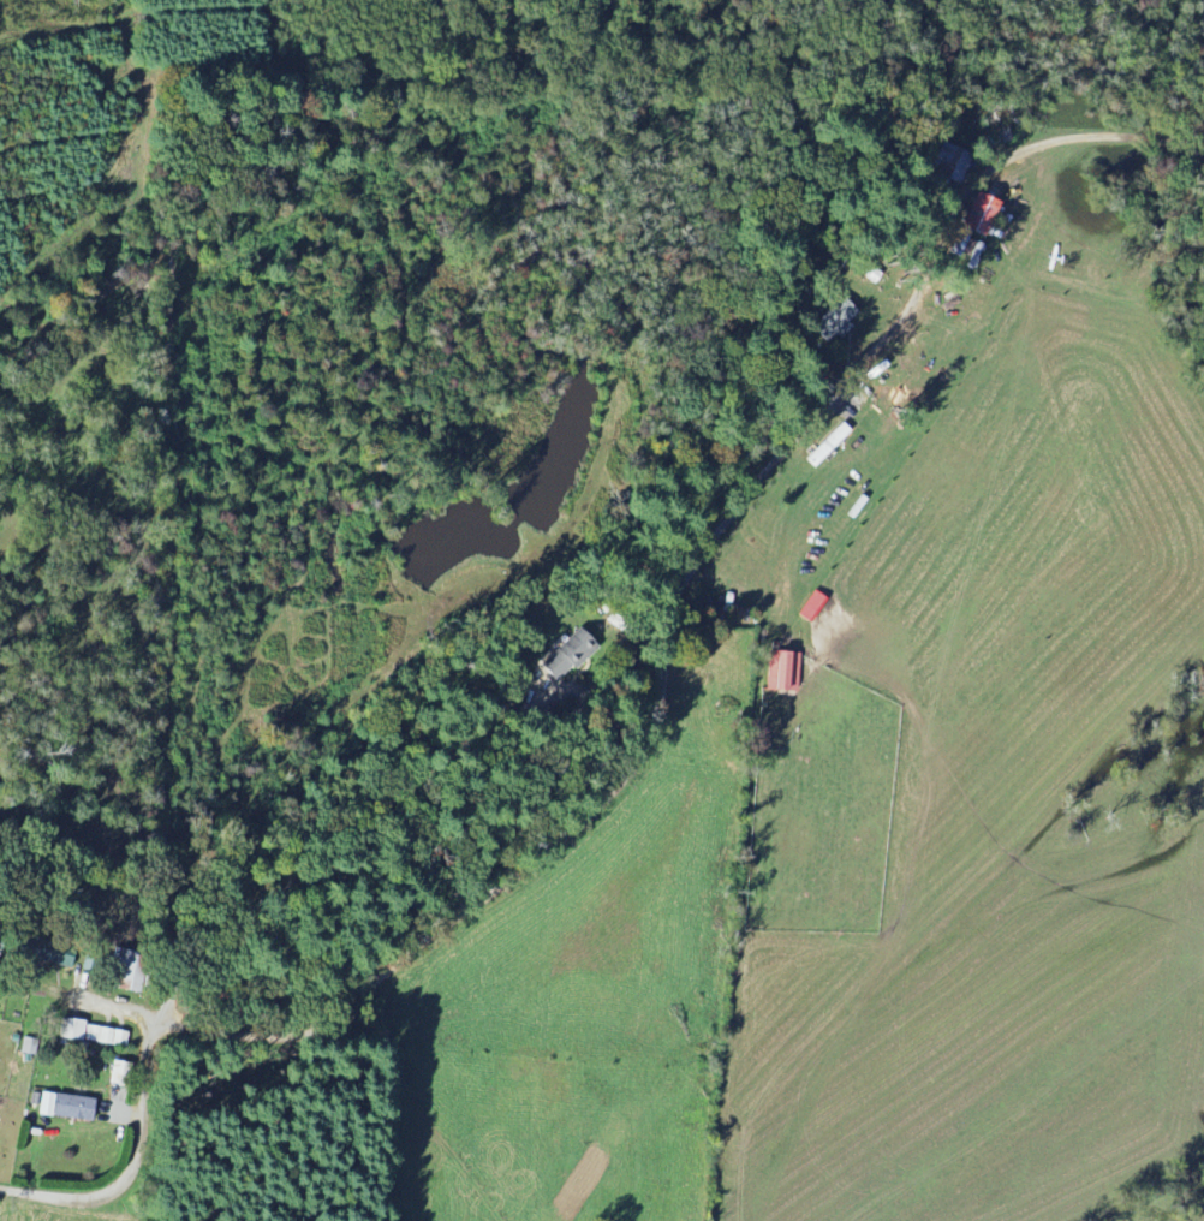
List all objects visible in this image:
building: (950, 162)
building: (977, 214)
building: (832, 320)
building: (810, 607)
building: (565, 655)
building: (785, 671)
road: (656, 713)
road: (338, 851)
building: (55, 954)
building: (123, 969)
building: (70, 1029)
building: (105, 1036)
road: (145, 1104)
building: (64, 1107)

